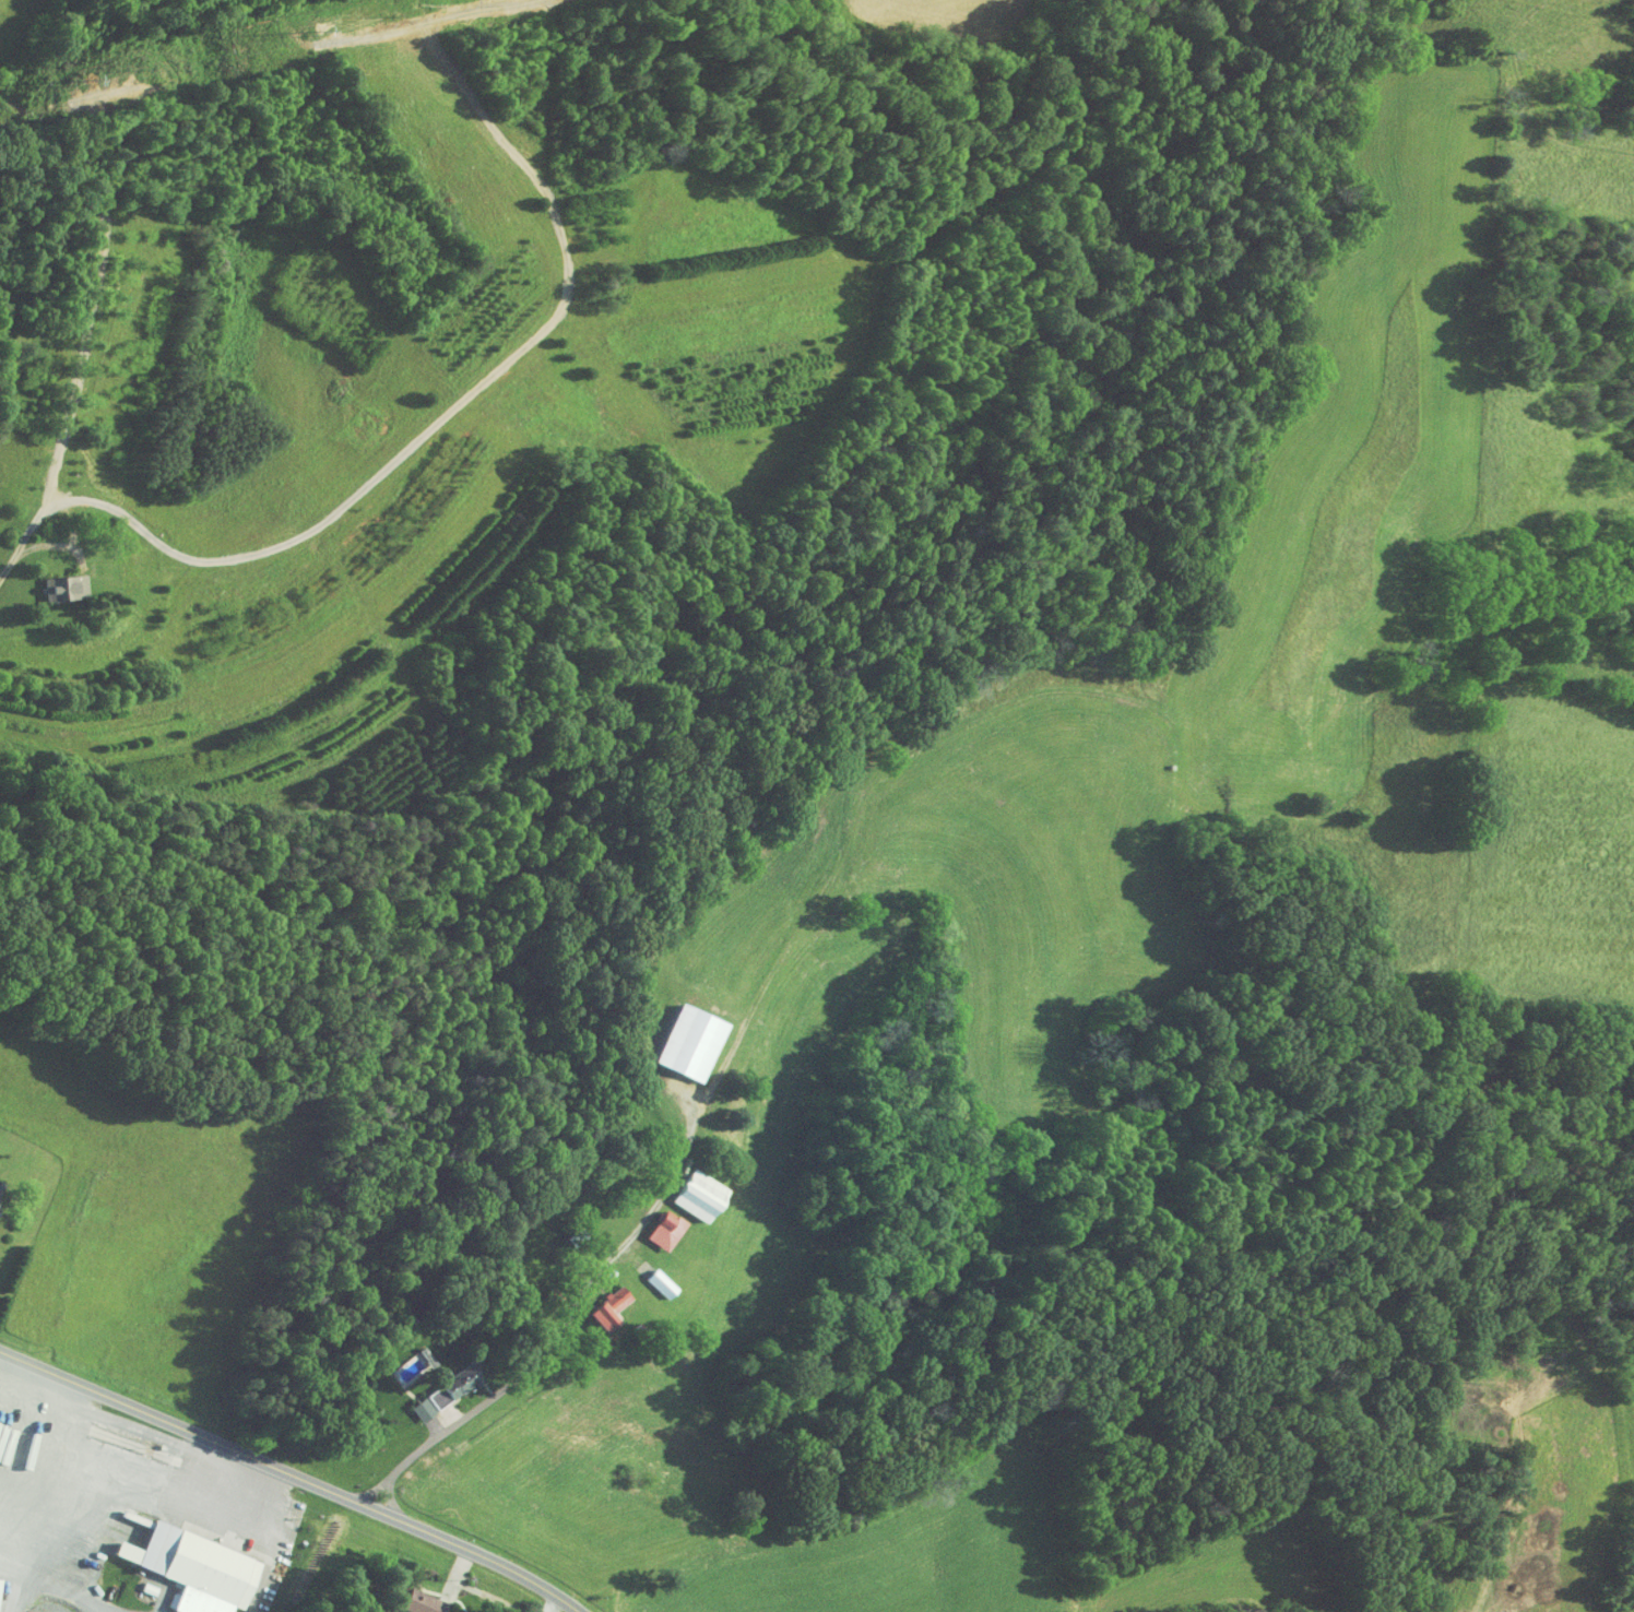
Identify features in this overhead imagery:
road: (40, 548)
building: (54, 581)
building: (679, 1036)
building: (688, 1189)
building: (654, 1224)
building: (649, 1278)
building: (599, 1303)
road: (568, 1320)
building: (437, 1392)
road: (291, 1474)
building: (189, 1569)
building: (413, 1603)
road: (553, 1604)

